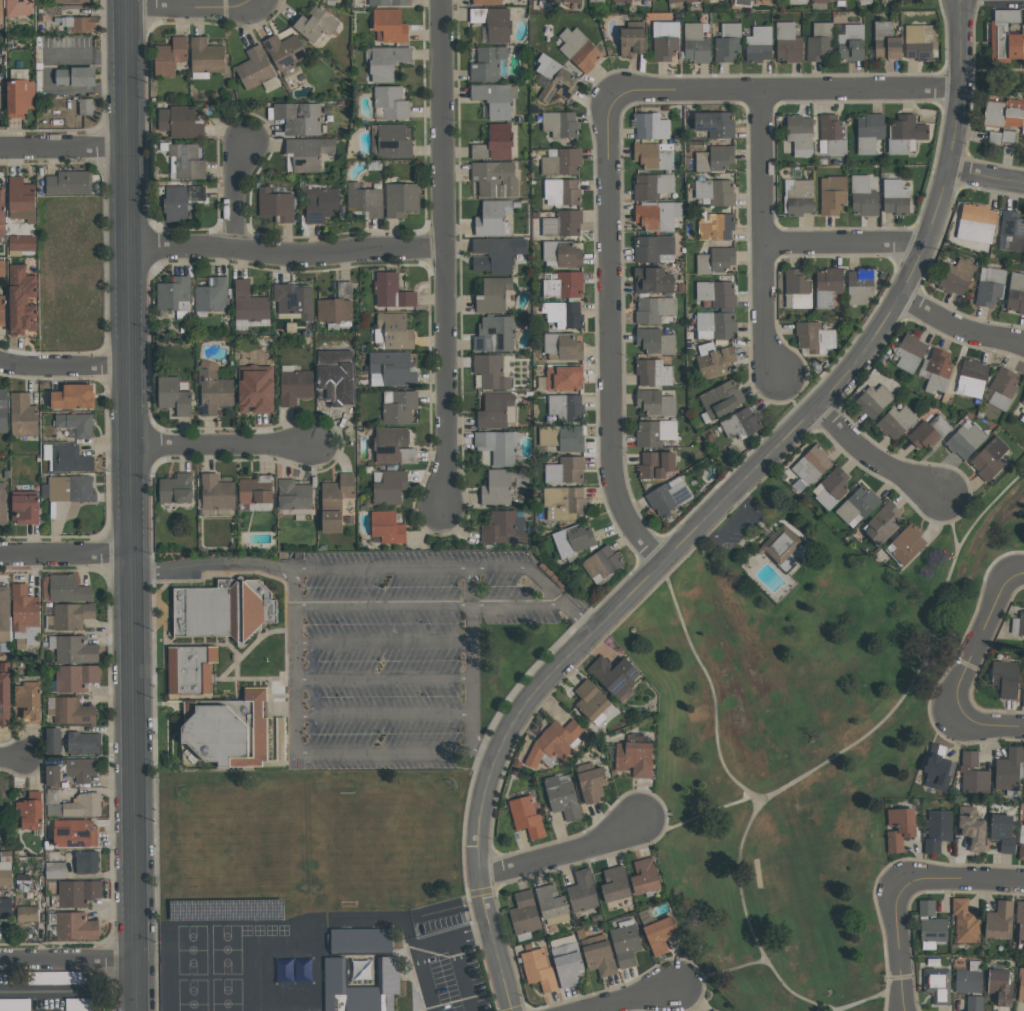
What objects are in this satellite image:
building: (623, 0)
building: (650, 0)
building: (770, 0)
building: (802, 0)
road: (961, 0)
building: (73, 1)
building: (566, 1)
building: (680, 1)
building: (389, 2)
building: (487, 2)
road: (256, 3)
road: (191, 7)
building: (21, 8)
building: (1, 10)
building: (1023, 17)
building: (78, 22)
building: (495, 22)
building: (317, 23)
building: (391, 25)
building: (1007, 36)
building: (666, 39)
building: (791, 39)
building: (636, 41)
building: (820, 41)
building: (888, 41)
building: (922, 41)
building: (697, 42)
building: (729, 42)
building: (852, 43)
road: (956, 43)
road: (965, 43)
building: (760, 44)
building: (580, 49)
building: (287, 52)
building: (207, 55)
building: (171, 56)
building: (388, 61)
building: (488, 63)
building: (256, 67)
building: (78, 76)
building: (557, 79)
road: (786, 89)
building: (21, 93)
building: (497, 99)
building: (392, 102)
building: (85, 106)
building: (1005, 113)
building: (300, 117)
building: (182, 121)
building: (717, 123)
building: (561, 124)
building: (652, 126)
building: (1023, 128)
building: (870, 132)
building: (906, 133)
building: (801, 134)
building: (832, 134)
building: (1003, 137)
building: (395, 141)
building: (497, 142)
road: (64, 146)
building: (309, 152)
building: (655, 155)
building: (715, 158)
building: (186, 159)
building: (563, 161)
road: (759, 166)
road: (986, 176)
building: (496, 178)
building: (70, 182)
building: (653, 185)
building: (563, 191)
building: (716, 191)
building: (834, 194)
building: (865, 196)
building: (802, 197)
building: (897, 197)
building: (23, 199)
building: (365, 199)
building: (402, 199)
building: (182, 200)
road: (238, 200)
building: (276, 204)
building: (322, 204)
building: (3, 211)
building: (659, 214)
building: (494, 218)
building: (564, 223)
building: (978, 223)
building: (717, 226)
building: (1013, 229)
building: (22, 244)
road: (843, 244)
road: (285, 248)
building: (655, 248)
road: (442, 251)
building: (498, 253)
building: (562, 253)
building: (717, 260)
building: (2, 268)
building: (958, 276)
building: (655, 279)
building: (862, 284)
building: (566, 285)
building: (829, 286)
building: (992, 286)
building: (798, 289)
building: (393, 291)
building: (1016, 292)
building: (718, 293)
building: (174, 294)
building: (494, 294)
building: (213, 295)
building: (24, 300)
building: (296, 300)
building: (251, 303)
building: (338, 307)
building: (655, 309)
building: (4, 310)
road: (760, 311)
building: (565, 314)
building: (249, 324)
building: (717, 325)
road: (958, 327)
building: (394, 331)
building: (496, 334)
road: (609, 336)
building: (815, 336)
building: (656, 341)
building: (564, 346)
building: (911, 352)
building: (716, 359)
road: (64, 365)
building: (393, 369)
building: (939, 370)
building: (492, 371)
building: (655, 372)
building: (338, 374)
building: (566, 377)
building: (972, 377)
building: (295, 385)
building: (1004, 387)
building: (215, 389)
building: (258, 389)
building: (174, 395)
building: (76, 396)
building: (722, 399)
building: (875, 400)
building: (1023, 401)
building: (657, 402)
building: (399, 406)
building: (568, 407)
building: (4, 410)
building: (497, 410)
building: (22, 415)
building: (1022, 417)
building: (897, 422)
building: (77, 423)
building: (742, 423)
building: (930, 431)
building: (656, 432)
building: (564, 437)
building: (966, 440)
road: (220, 445)
building: (394, 445)
building: (499, 446)
road: (872, 457)
building: (67, 458)
building: (991, 459)
building: (658, 464)
building: (811, 466)
building: (567, 470)
building: (504, 485)
building: (390, 486)
building: (832, 487)
building: (70, 488)
building: (178, 488)
building: (218, 492)
building: (258, 492)
building: (668, 495)
building: (296, 496)
building: (337, 501)
building: (565, 502)
building: (3, 503)
building: (858, 504)
road: (131, 505)
building: (28, 509)
building: (885, 522)
road: (950, 523)
building: (387, 527)
building: (504, 528)
road: (738, 530)
building: (573, 540)
road: (683, 541)
building: (784, 544)
building: (906, 544)
road: (66, 553)
building: (601, 562)
road: (211, 565)
road: (434, 567)
road: (1018, 570)
building: (67, 588)
road: (516, 603)
road: (380, 605)
building: (23, 608)
building: (223, 609)
building: (5, 613)
building: (72, 615)
road: (577, 616)
building: (1022, 623)
road: (382, 641)
road: (982, 642)
building: (0, 649)
building: (74, 650)
road: (951, 658)
road: (295, 660)
building: (190, 669)
building: (613, 675)
road: (383, 676)
building: (75, 677)
building: (1004, 678)
road: (711, 688)
road: (471, 690)
building: (1023, 690)
building: (6, 693)
building: (590, 700)
building: (28, 701)
building: (70, 710)
road: (383, 712)
road: (988, 719)
building: (229, 731)
park: (802, 731)
building: (280, 738)
building: (52, 741)
building: (552, 741)
building: (83, 742)
road: (384, 751)
road: (11, 758)
building: (634, 758)
road: (833, 758)
building: (938, 768)
building: (80, 769)
building: (1008, 769)
building: (973, 774)
building: (52, 775)
building: (592, 784)
building: (562, 796)
building: (72, 804)
building: (29, 811)
building: (526, 816)
road: (700, 817)
building: (899, 828)
building: (971, 828)
building: (937, 829)
building: (1022, 829)
building: (1002, 832)
building: (75, 833)
building: (1022, 848)
road: (561, 850)
building: (86, 862)
building: (5, 871)
building: (644, 876)
road: (960, 883)
building: (615, 884)
building: (582, 891)
building: (77, 892)
building: (551, 905)
building: (7, 907)
building: (926, 908)
building: (27, 914)
building: (524, 915)
building: (999, 920)
building: (964, 921)
building: (1021, 922)
building: (75, 926)
building: (933, 929)
building: (660, 934)
building: (360, 940)
building: (625, 943)
road: (422, 947)
road: (900, 948)
building: (598, 955)
road: (68, 959)
building: (567, 964)
building: (538, 968)
building: (293, 970)
road: (721, 972)
road: (461, 975)
building: (1022, 983)
building: (937, 984)
building: (970, 985)
building: (360, 987)
building: (1000, 987)
road: (49, 993)
road: (873, 999)
road: (640, 1000)
building: (716, 1010)

